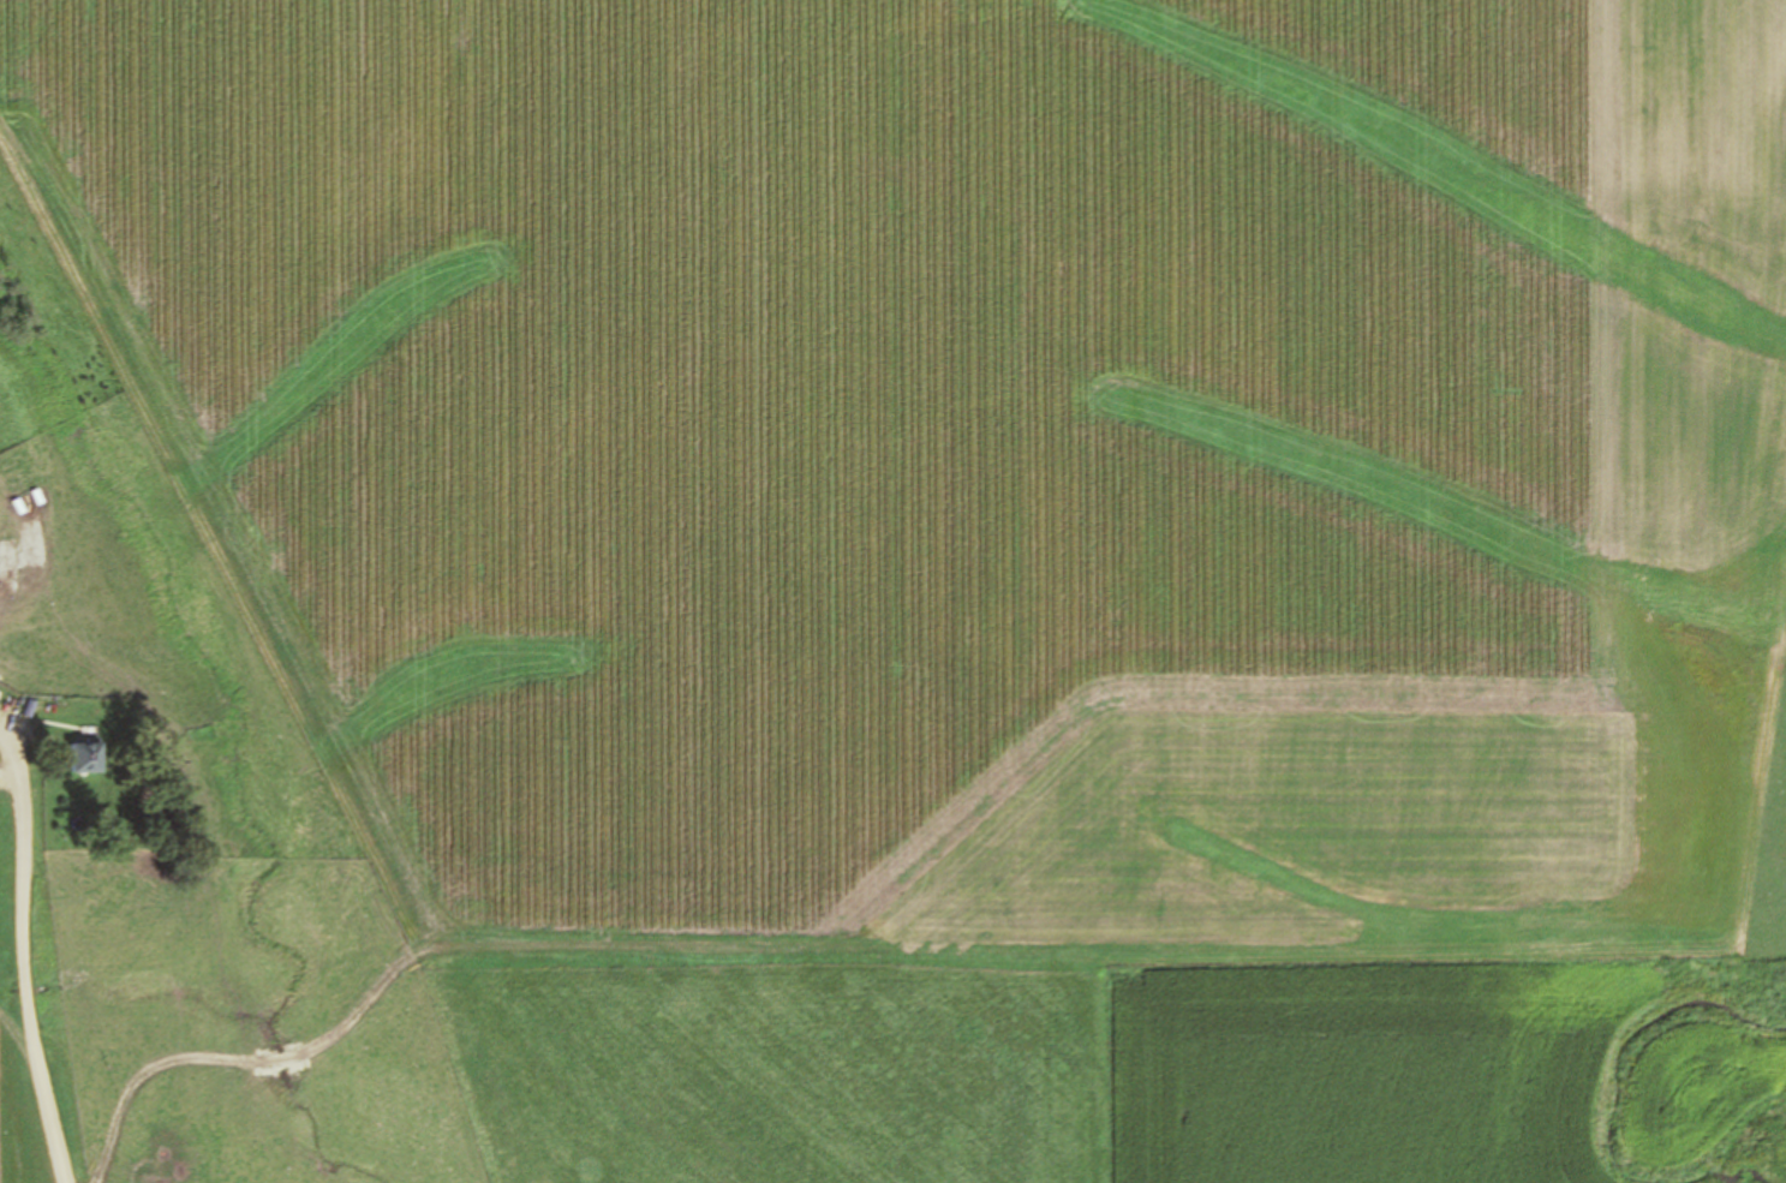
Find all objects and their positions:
building: (42, 705)
building: (86, 758)
road: (31, 958)

